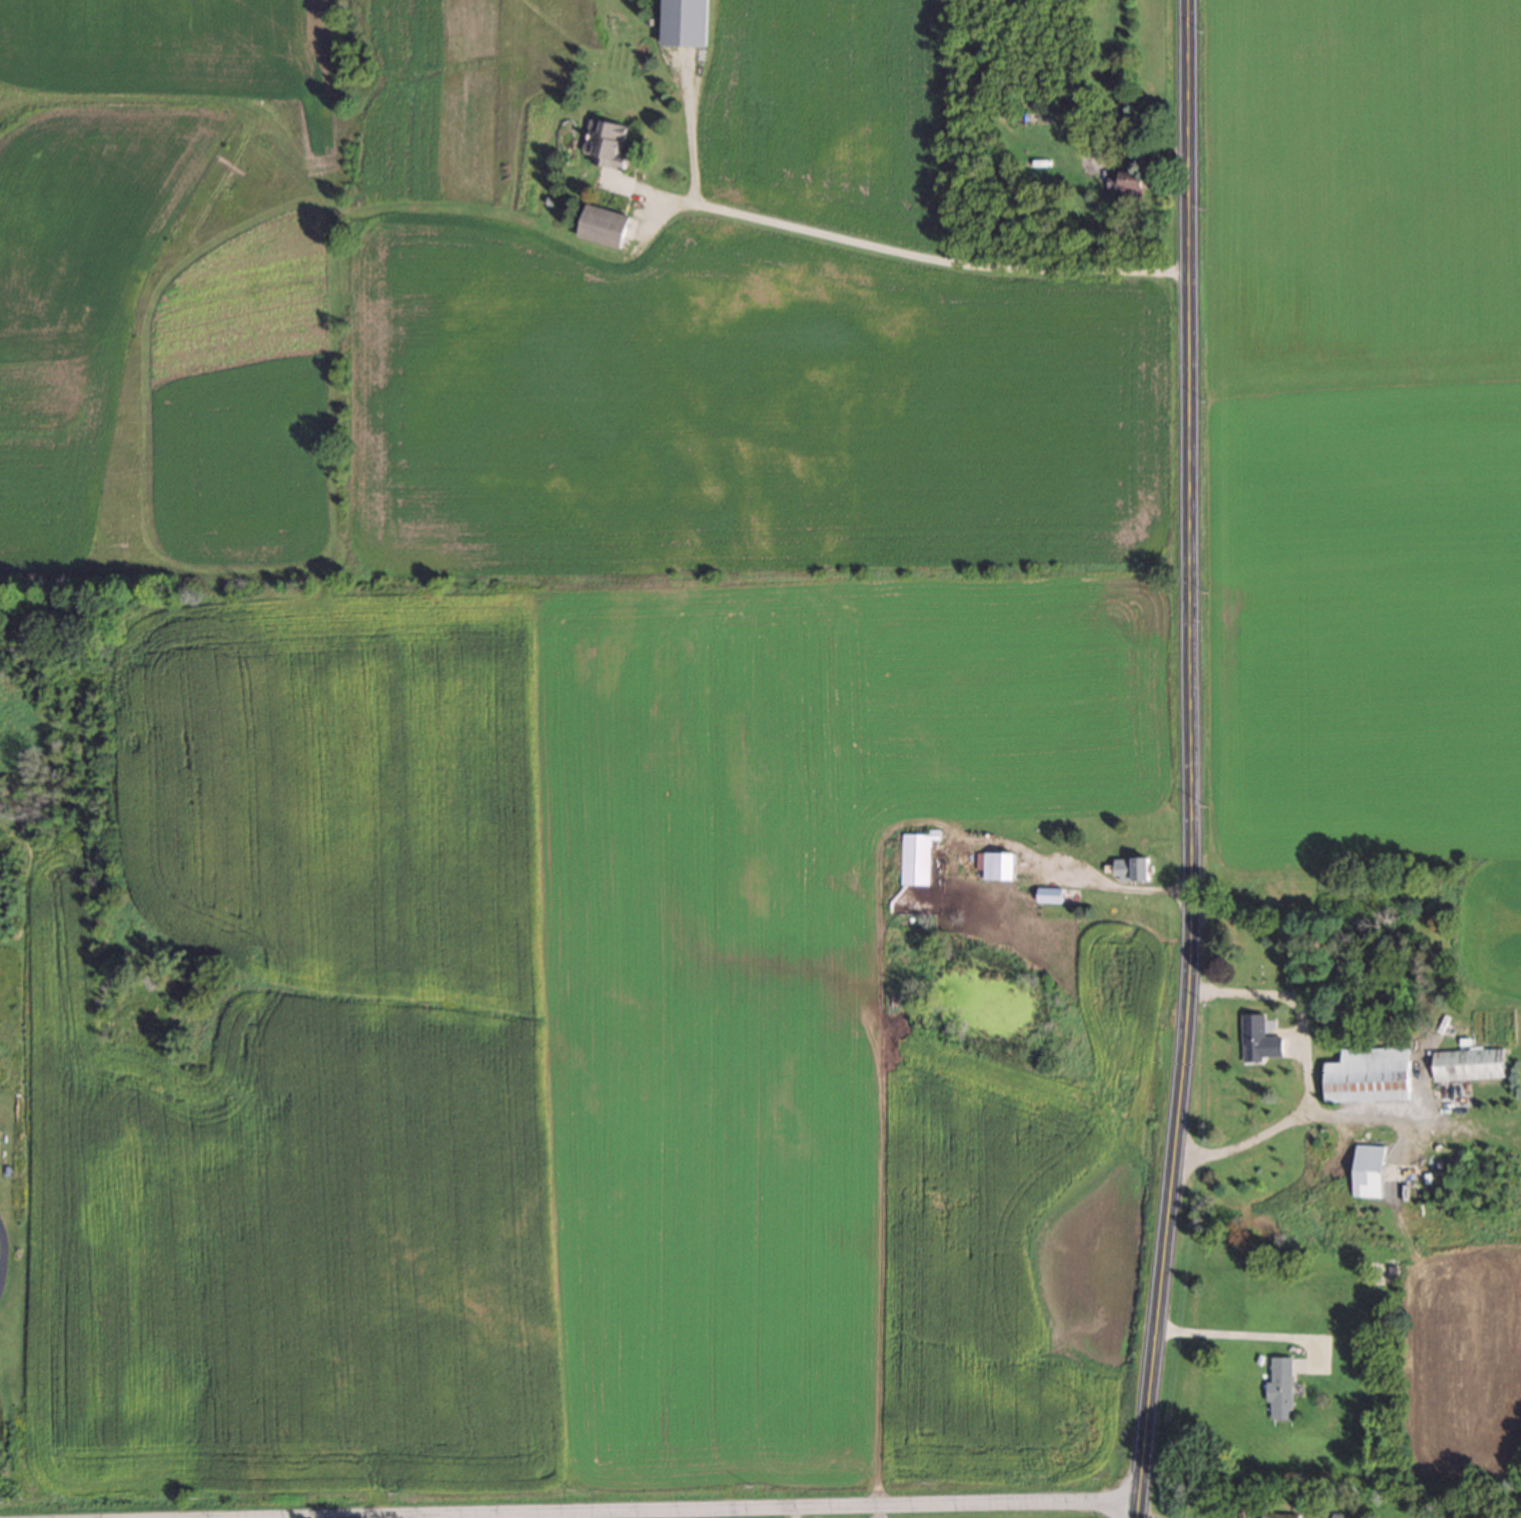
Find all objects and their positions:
building: (606, 144)
road: (1136, 155)
building: (1127, 184)
building: (604, 226)
road: (639, 237)
road: (890, 250)
road: (1185, 760)
building: (918, 857)
building: (997, 865)
building: (1132, 869)
road: (1128, 890)
building: (1253, 1044)
building: (1469, 1064)
building: (1369, 1075)
road: (1251, 1139)
building: (1369, 1171)
building: (1310, 1180)
road: (1249, 1335)
building: (1280, 1388)
park: (1336, 1501)
road: (742, 1509)
building: (1281, 1510)
road: (1142, 1516)
building: (1335, 1516)

